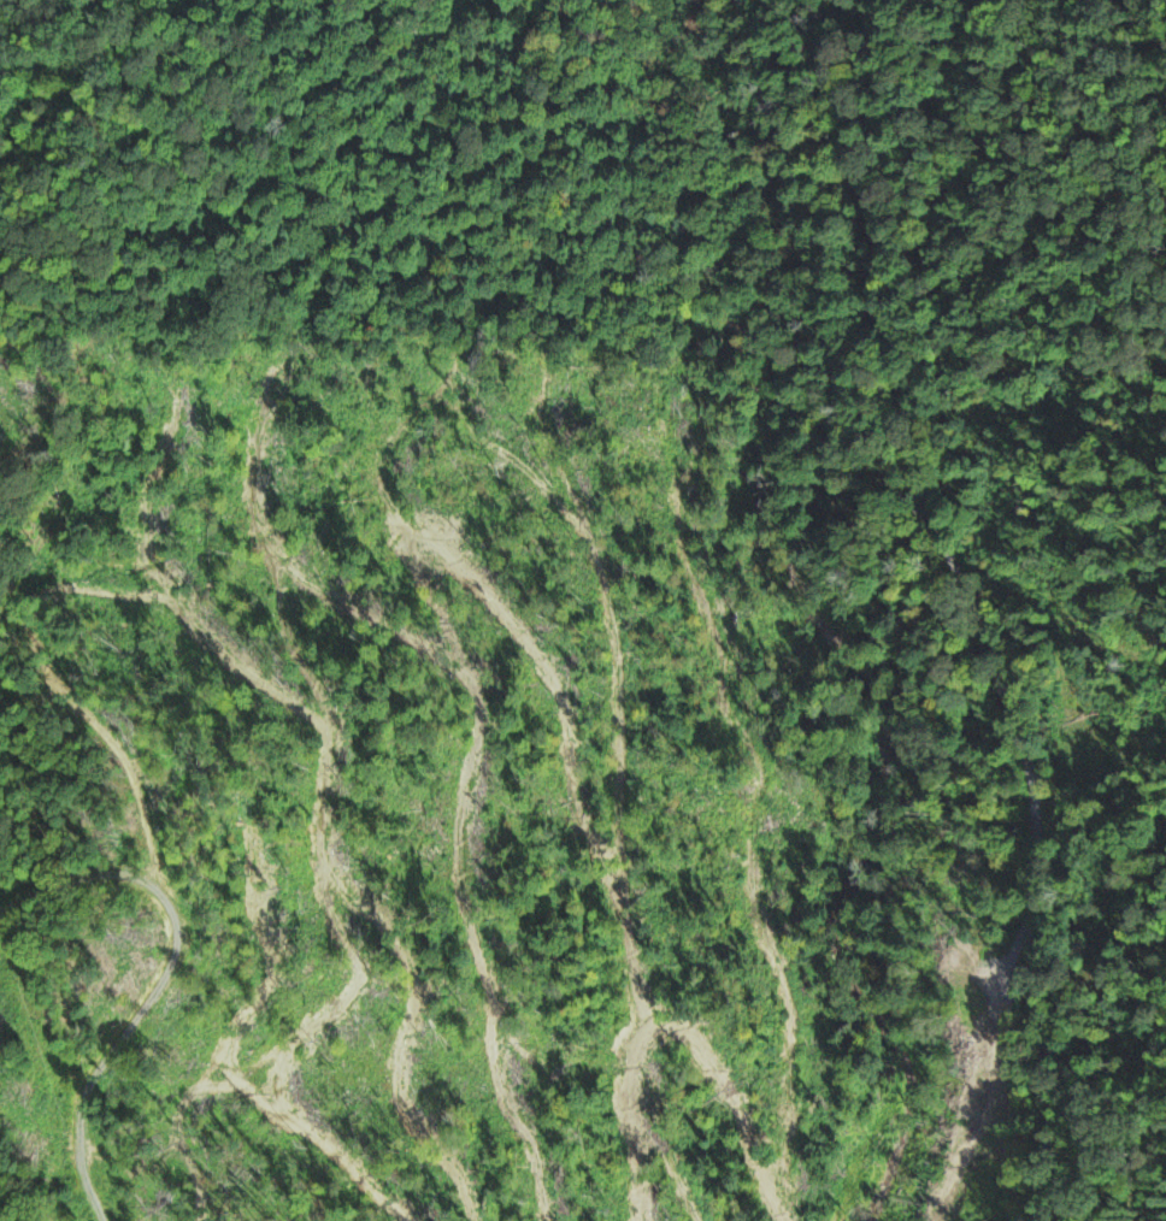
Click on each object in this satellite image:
road: (972, 603)

